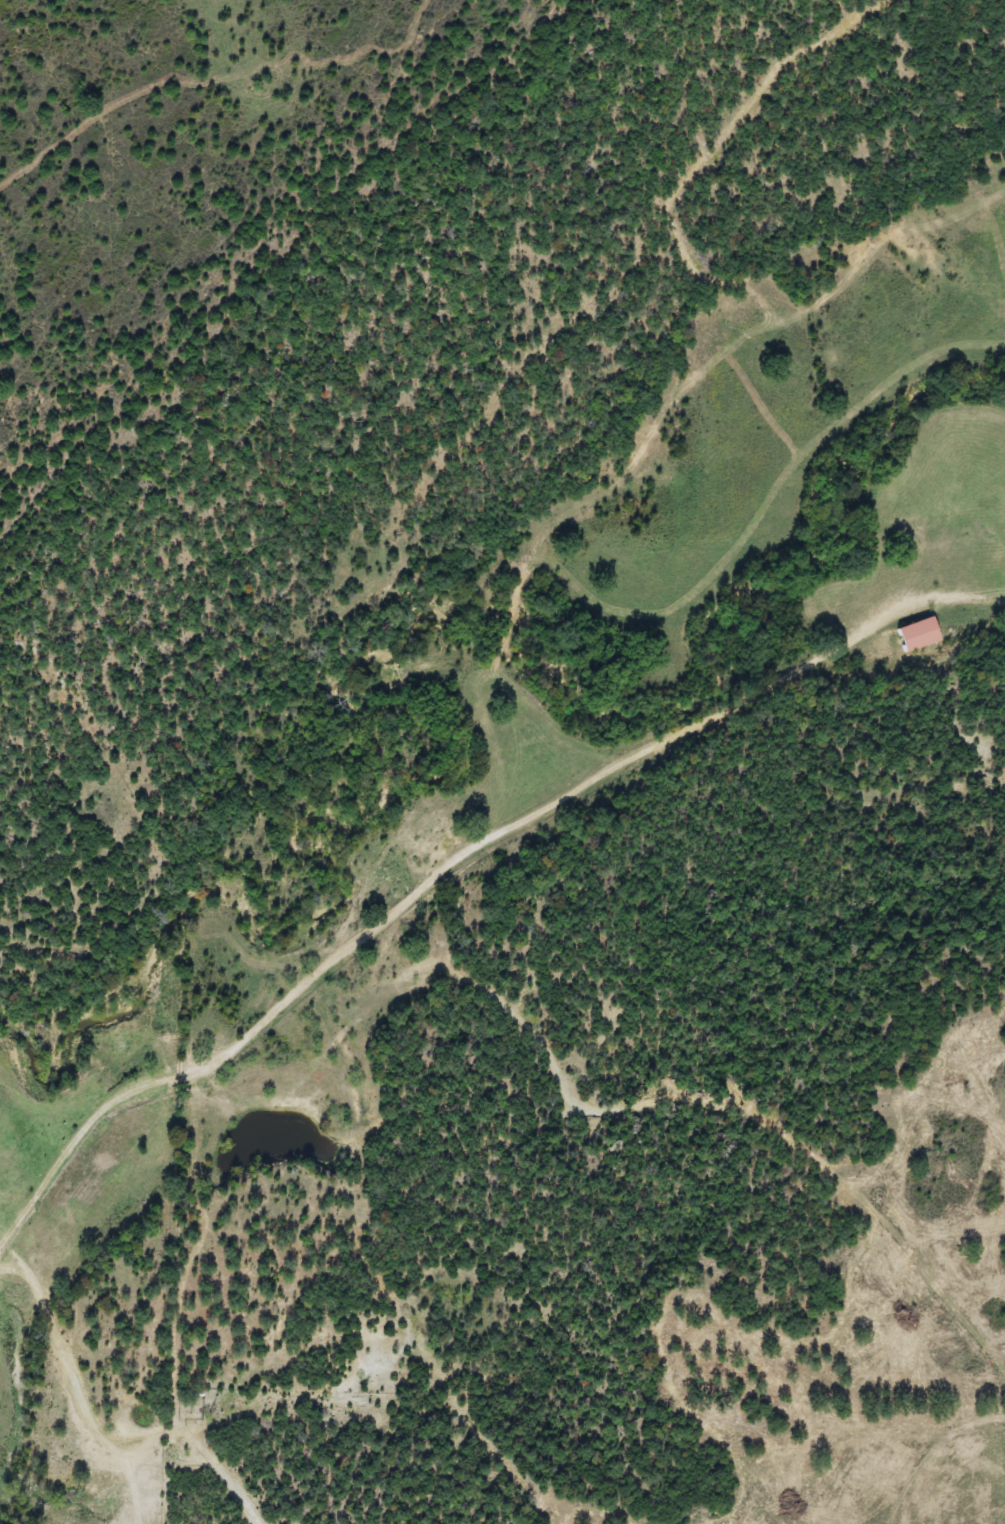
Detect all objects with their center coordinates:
building: (919, 634)
road: (400, 890)

